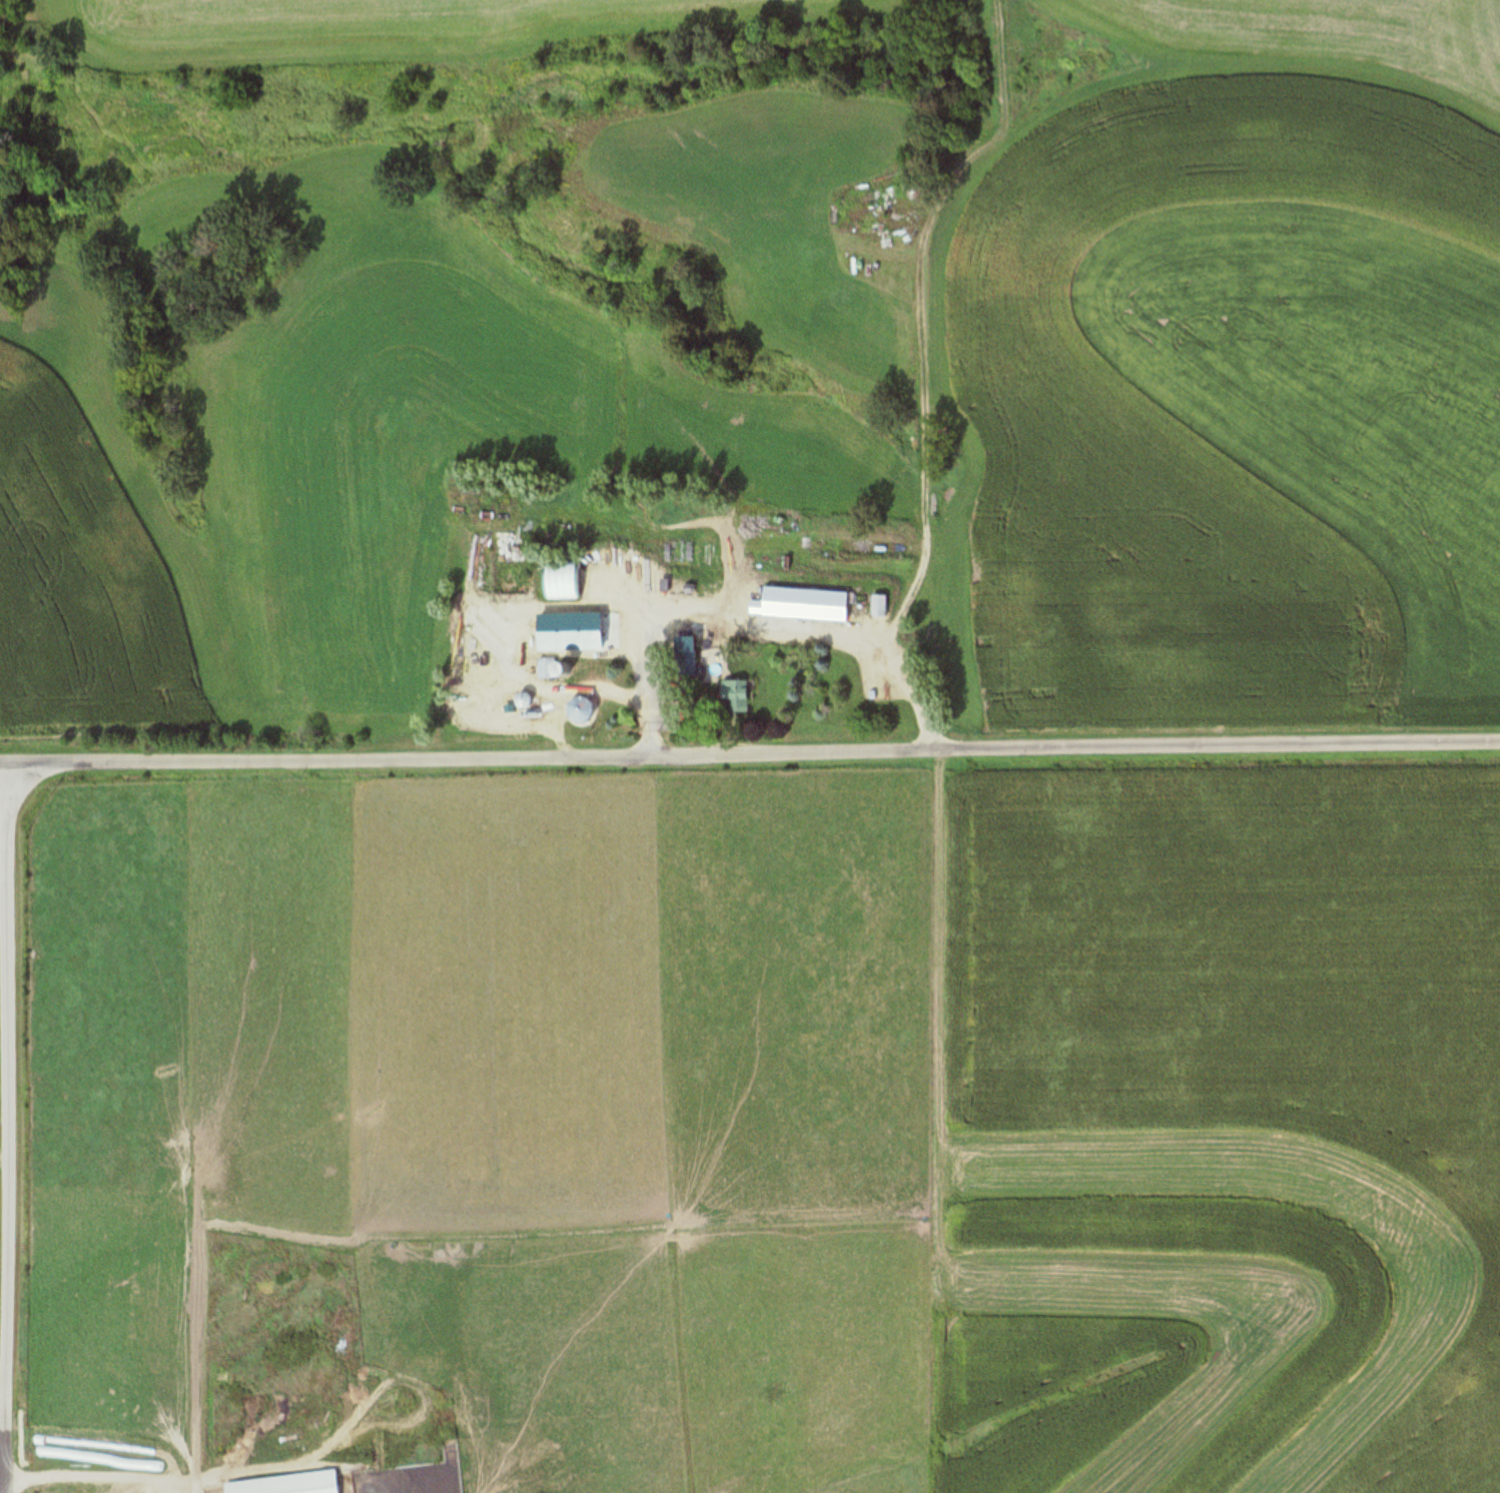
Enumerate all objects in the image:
building: (561, 581)
building: (804, 605)
building: (698, 633)
building: (635, 638)
building: (577, 646)
building: (686, 665)
building: (554, 671)
building: (482, 682)
building: (735, 696)
building: (521, 703)
building: (579, 710)
road: (749, 751)
road: (7, 1127)
building: (284, 1484)

